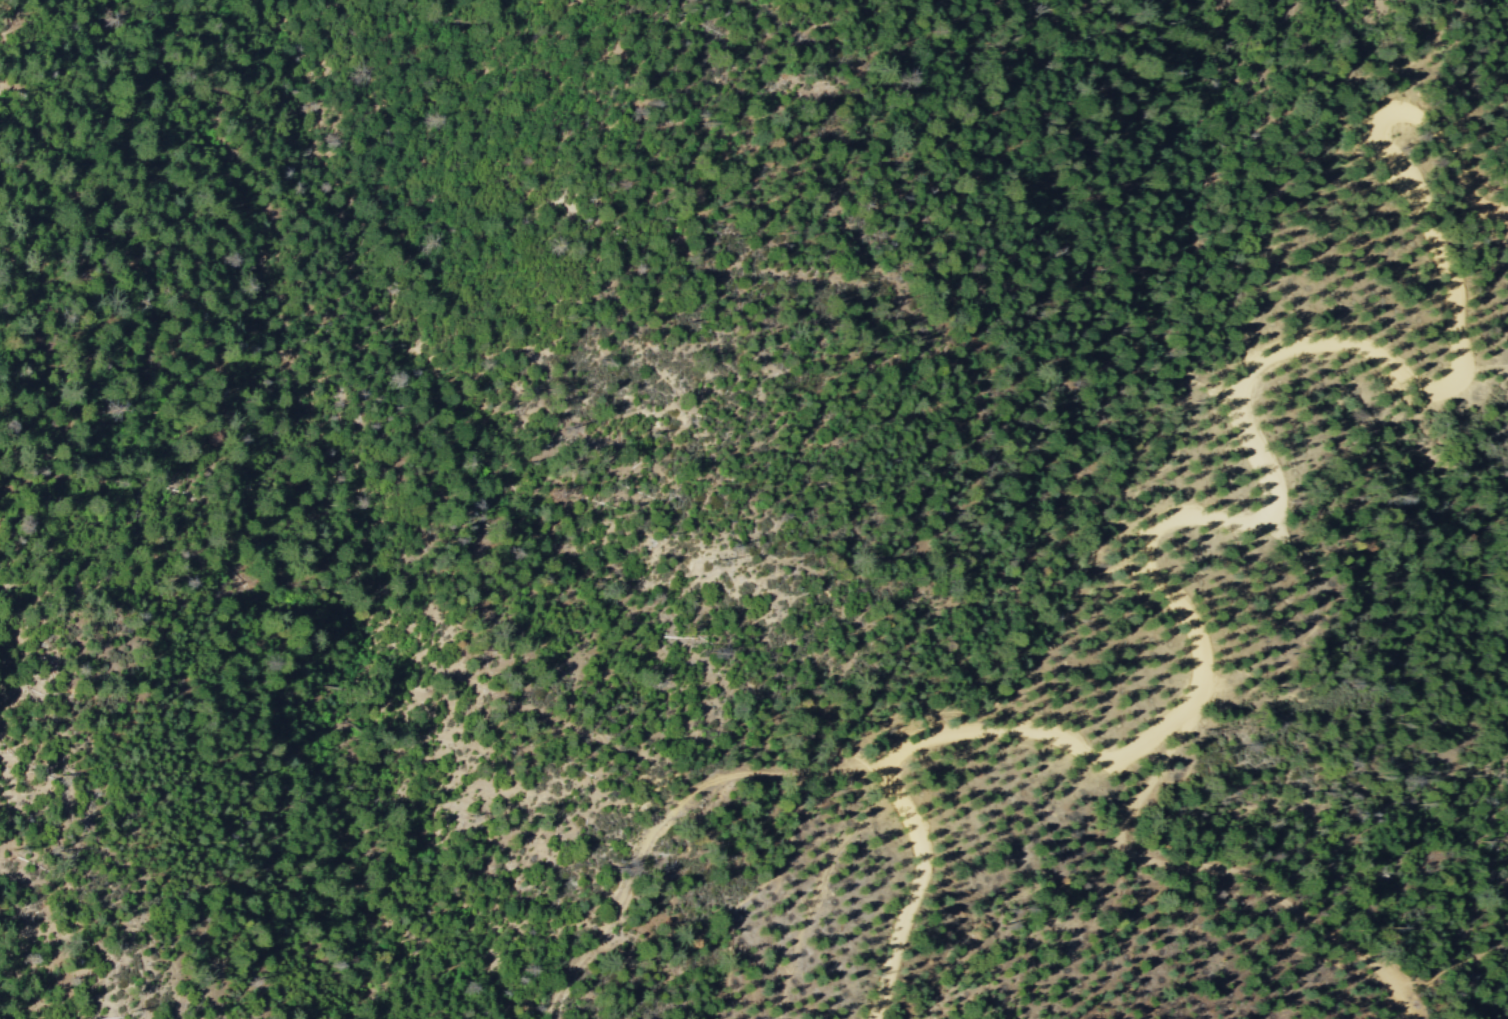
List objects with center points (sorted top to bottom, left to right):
road: (1229, 521)
road: (1234, 869)

